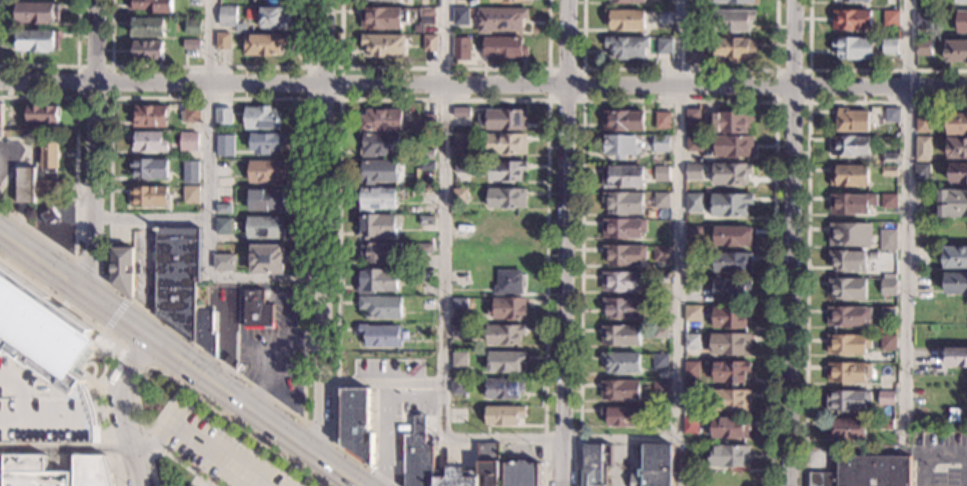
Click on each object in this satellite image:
building: (384, 0)
building: (505, 1)
building: (628, 1)
building: (854, 1)
building: (961, 1)
building: (735, 2)
building: (151, 6)
building: (38, 13)
building: (695, 15)
building: (227, 16)
building: (267, 17)
building: (427, 17)
building: (461, 17)
building: (380, 18)
building: (663, 18)
building: (500, 19)
building: (890, 19)
building: (624, 20)
building: (733, 20)
building: (851, 20)
building: (924, 20)
building: (961, 22)
building: (146, 27)
building: (192, 27)
building: (240, 28)
building: (37, 41)
building: (222, 41)
road: (566, 42)
road: (793, 42)
building: (191, 43)
building: (430, 43)
building: (264, 44)
building: (383, 46)
building: (663, 46)
building: (626, 47)
building: (889, 47)
building: (504, 48)
building: (854, 48)
building: (923, 48)
building: (461, 49)
building: (734, 49)
building: (149, 50)
building: (194, 51)
building: (956, 51)
building: (693, 56)
road: (71, 66)
road: (111, 67)
road: (211, 68)
road: (341, 69)
road: (445, 69)
road: (583, 69)
road: (680, 70)
road: (809, 71)
road: (852, 71)
road: (163, 84)
road: (446, 85)
road: (679, 85)
road: (880, 86)
road: (157, 97)
road: (429, 100)
road: (678, 102)
road: (209, 110)
building: (43, 113)
building: (190, 115)
building: (892, 115)
building: (150, 116)
building: (222, 116)
building: (263, 117)
building: (459, 117)
building: (692, 117)
building: (1, 119)
building: (431, 119)
building: (381, 120)
building: (504, 120)
building: (662, 120)
building: (622, 121)
building: (851, 121)
building: (731, 122)
building: (922, 123)
building: (956, 124)
building: (188, 141)
building: (148, 142)
building: (267, 143)
building: (460, 143)
building: (661, 143)
building: (693, 143)
building: (225, 144)
building: (505, 144)
road: (95, 145)
building: (379, 145)
building: (620, 146)
building: (732, 146)
building: (849, 146)
building: (957, 148)
building: (922, 149)
building: (426, 155)
building: (49, 156)
building: (890, 159)
building: (426, 165)
building: (462, 167)
building: (149, 169)
building: (506, 170)
building: (693, 171)
building: (190, 172)
building: (378, 172)
building: (889, 172)
building: (921, 172)
building: (266, 173)
building: (957, 173)
building: (660, 174)
building: (729, 174)
building: (848, 176)
building: (622, 177)
building: (25, 184)
road: (75, 185)
building: (44, 187)
building: (426, 193)
road: (442, 193)
building: (191, 195)
building: (148, 196)
building: (460, 196)
building: (376, 199)
building: (506, 199)
building: (661, 200)
building: (267, 201)
building: (888, 202)
building: (694, 203)
building: (623, 204)
building: (851, 204)
building: (952, 204)
building: (730, 205)
building: (223, 208)
building: (49, 214)
road: (906, 214)
road: (807, 215)
building: (426, 221)
building: (459, 221)
building: (223, 226)
building: (377, 226)
building: (506, 226)
building: (265, 227)
road: (323, 227)
building: (622, 229)
building: (693, 233)
building: (850, 235)
building: (732, 236)
building: (887, 240)
road: (679, 243)
building: (425, 249)
road: (206, 252)
building: (380, 253)
building: (660, 254)
building: (624, 255)
building: (954, 258)
building: (693, 259)
building: (267, 260)
building: (848, 261)
road: (563, 262)
building: (224, 263)
building: (732, 263)
building: (122, 269)
road: (91, 273)
building: (425, 275)
building: (177, 277)
building: (459, 278)
building: (660, 278)
building: (377, 281)
building: (623, 282)
building: (508, 283)
building: (691, 284)
building: (956, 284)
road: (791, 286)
building: (888, 288)
building: (731, 289)
building: (847, 289)
building: (459, 304)
building: (381, 308)
building: (623, 308)
building: (507, 309)
building: (257, 311)
building: (692, 313)
building: (888, 313)
road: (116, 315)
building: (730, 316)
building: (847, 316)
building: (424, 330)
building: (42, 332)
building: (205, 332)
building: (459, 332)
building: (659, 332)
building: (504, 334)
building: (380, 336)
building: (620, 336)
building: (691, 342)
building: (887, 343)
building: (847, 344)
road: (120, 345)
building: (730, 345)
road: (135, 356)
building: (956, 357)
road: (179, 358)
building: (458, 358)
building: (505, 362)
building: (660, 362)
building: (621, 363)
building: (730, 371)
building: (691, 372)
building: (847, 372)
building: (457, 387)
road: (183, 388)
building: (874, 388)
building: (503, 389)
building: (660, 389)
building: (620, 390)
building: (689, 397)
building: (886, 398)
building: (730, 400)
building: (847, 400)
road: (196, 404)
building: (42, 407)
parking garage: (42, 407)
road: (121, 408)
road: (162, 411)
road: (441, 413)
road: (211, 415)
building: (503, 416)
building: (659, 416)
building: (620, 417)
building: (358, 423)
building: (886, 424)
road: (226, 426)
building: (689, 426)
building: (730, 428)
building: (847, 429)
road: (320, 434)
road: (395, 435)
road: (241, 436)
road: (619, 437)
road: (237, 440)
road: (201, 441)
parking lot: (213, 448)
road: (257, 448)
road: (65, 449)
road: (929, 454)
building: (729, 456)
road: (272, 458)
parking lot: (941, 461)
building: (488, 463)
road: (560, 463)
road: (179, 464)
building: (595, 464)
building: (655, 466)
building: (430, 467)
road: (287, 469)
building: (1, 470)
building: (874, 470)
building: (92, 471)
building: (31, 472)
building: (522, 474)
building: (821, 478)
road: (303, 480)
road: (192, 481)
road: (204, 484)

